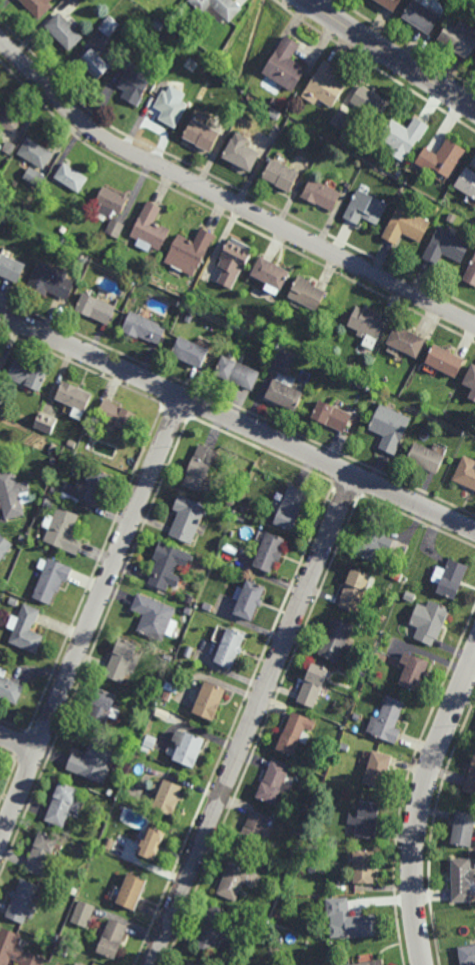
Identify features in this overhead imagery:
building: (75, 1)
building: (391, 3)
building: (38, 7)
building: (217, 8)
building: (423, 15)
building: (158, 25)
building: (109, 26)
building: (63, 31)
building: (459, 37)
road: (390, 54)
building: (97, 61)
building: (285, 65)
building: (135, 83)
building: (324, 86)
building: (175, 87)
building: (274, 102)
building: (370, 102)
building: (170, 108)
building: (274, 114)
building: (340, 119)
building: (9, 121)
building: (202, 134)
building: (404, 135)
building: (241, 152)
building: (6, 156)
building: (442, 158)
building: (35, 160)
building: (398, 173)
building: (281, 175)
building: (71, 177)
building: (467, 182)
building: (347, 186)
building: (322, 194)
road: (225, 200)
building: (111, 203)
building: (365, 209)
building: (451, 218)
building: (406, 226)
building: (151, 228)
building: (116, 229)
building: (63, 230)
building: (447, 247)
building: (191, 250)
building: (234, 261)
building: (11, 269)
building: (272, 273)
building: (471, 274)
building: (51, 282)
building: (308, 293)
building: (97, 309)
building: (189, 318)
building: (368, 322)
building: (145, 328)
building: (408, 341)
building: (191, 352)
building: (0, 353)
building: (448, 361)
building: (237, 373)
building: (28, 375)
building: (471, 379)
building: (285, 395)
building: (473, 396)
building: (75, 399)
building: (1, 403)
building: (117, 416)
building: (332, 417)
building: (96, 422)
road: (237, 422)
building: (46, 424)
building: (390, 429)
building: (72, 444)
building: (52, 448)
building: (428, 459)
building: (201, 468)
building: (466, 473)
building: (94, 488)
building: (54, 491)
building: (12, 495)
building: (291, 509)
building: (243, 510)
building: (188, 520)
building: (240, 520)
building: (63, 531)
building: (22, 539)
building: (376, 544)
building: (4, 547)
building: (230, 550)
building: (270, 554)
building: (169, 566)
building: (52, 580)
building: (451, 580)
building: (355, 592)
building: (411, 598)
building: (190, 600)
building: (249, 601)
building: (14, 602)
building: (207, 608)
road: (91, 617)
building: (385, 617)
building: (155, 619)
building: (430, 623)
building: (26, 630)
building: (336, 642)
building: (231, 650)
building: (169, 658)
building: (124, 661)
building: (352, 667)
building: (414, 671)
building: (314, 683)
building: (9, 687)
building: (210, 699)
building: (102, 707)
building: (149, 708)
building: (159, 709)
building: (356, 715)
road: (250, 719)
building: (389, 719)
building: (295, 731)
building: (151, 741)
road: (17, 743)
building: (346, 745)
building: (191, 748)
building: (145, 749)
building: (93, 762)
building: (380, 767)
building: (471, 780)
building: (275, 781)
building: (168, 795)
building: (64, 803)
road: (419, 807)
building: (306, 810)
building: (367, 818)
building: (255, 827)
building: (465, 828)
building: (298, 831)
building: (107, 833)
building: (309, 837)
building: (152, 842)
building: (108, 843)
building: (312, 848)
building: (42, 852)
building: (365, 865)
building: (237, 877)
building: (463, 878)
building: (74, 891)
building: (133, 891)
building: (22, 900)
building: (83, 913)
building: (350, 920)
building: (214, 928)
building: (56, 938)
building: (113, 938)
building: (64, 939)
building: (16, 950)
building: (62, 953)
building: (467, 954)
building: (192, 963)
building: (372, 963)
building: (77, 964)
building: (79, 964)
building: (310, 964)

